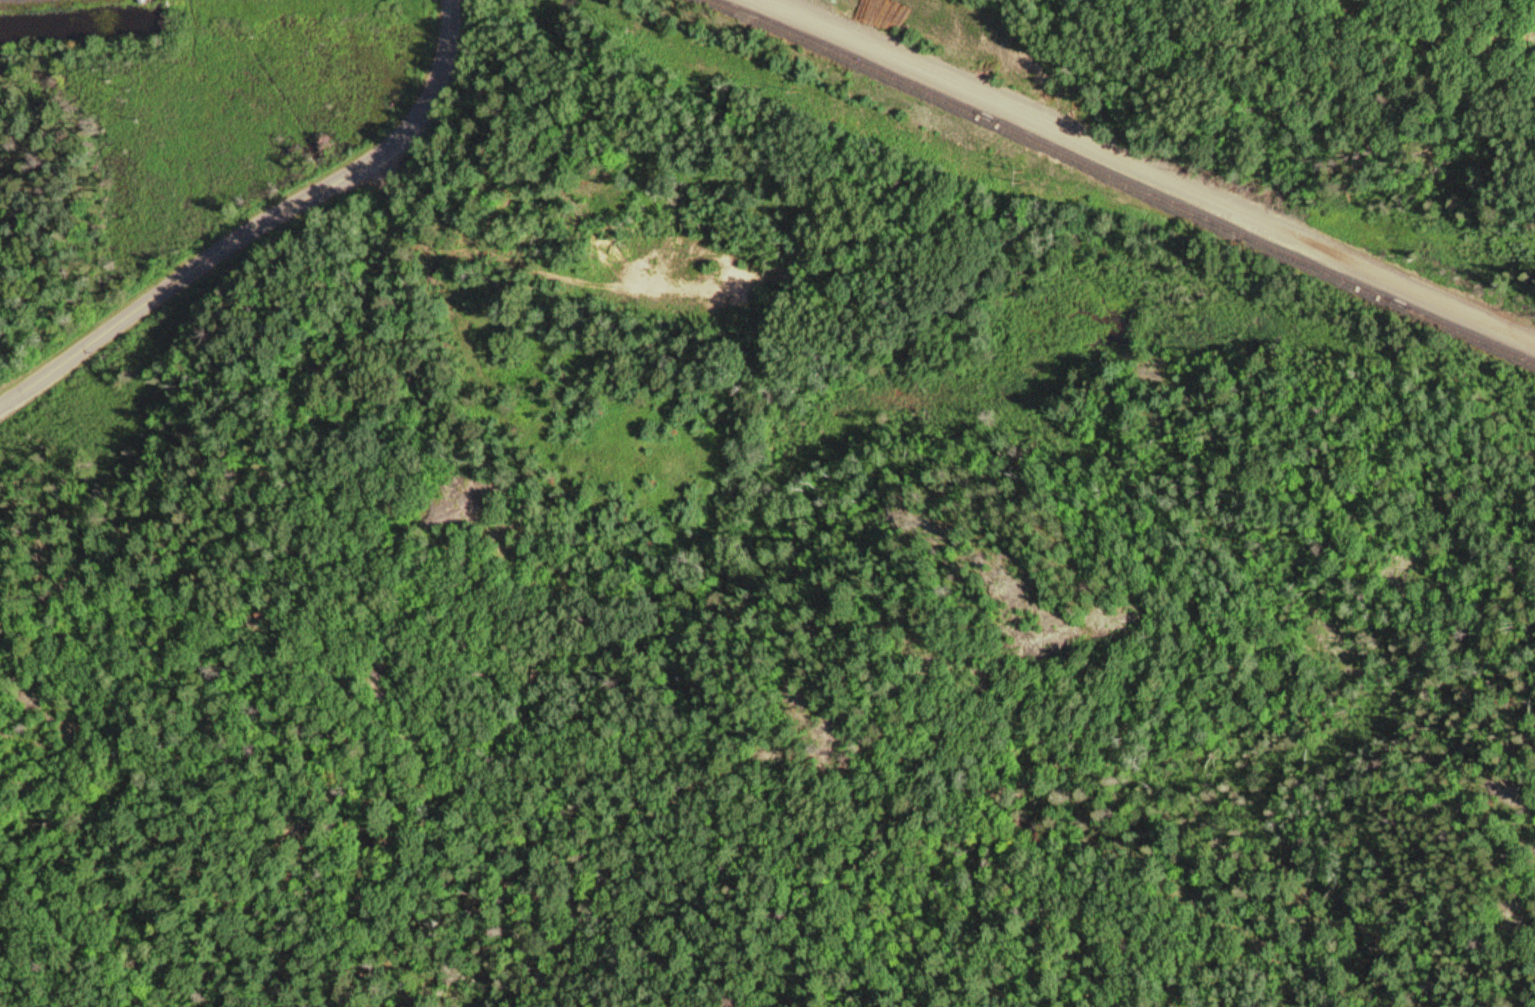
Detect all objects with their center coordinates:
road: (47, 3)
road: (1057, 204)
road: (262, 221)

